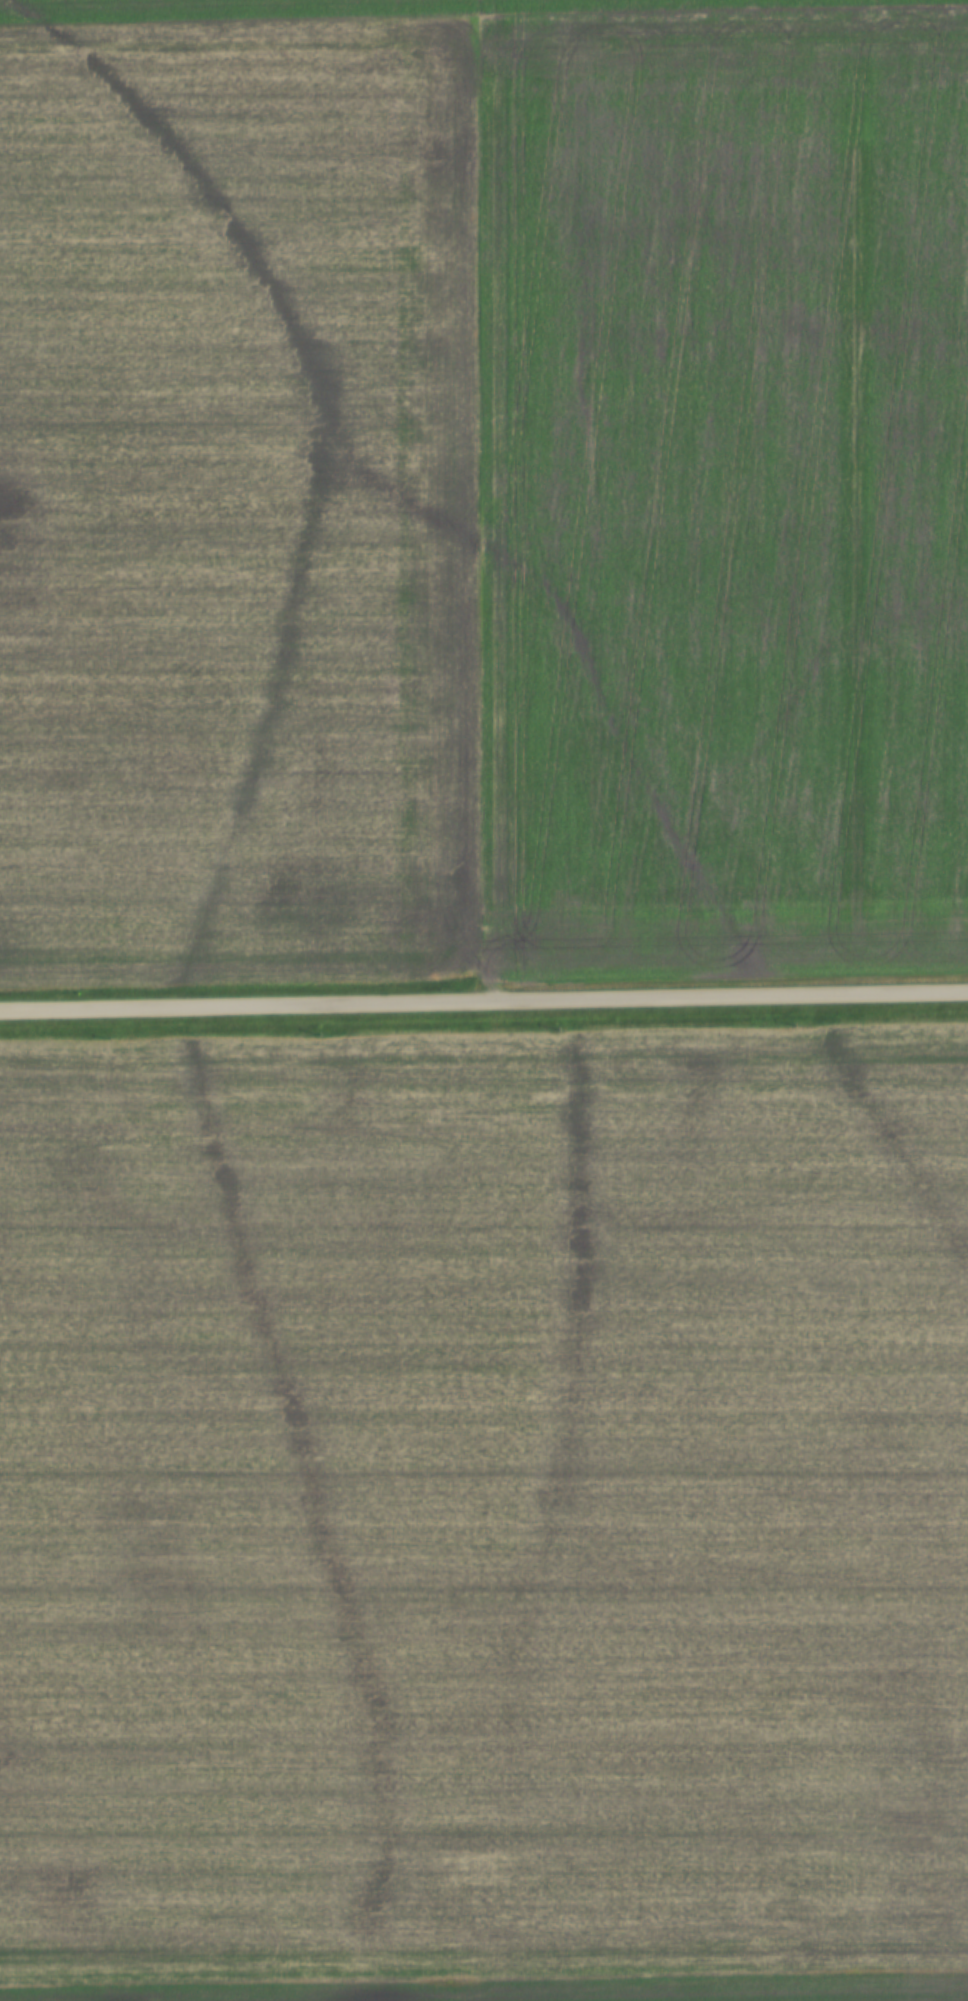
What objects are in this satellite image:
crop: (333, 7)
crop: (727, 491)
crop: (243, 500)
road: (484, 1000)
crop: (485, 1516)

